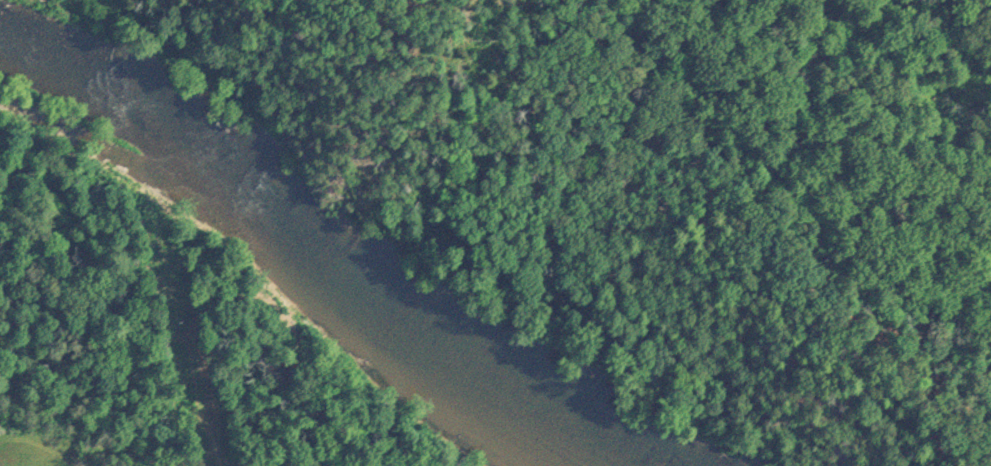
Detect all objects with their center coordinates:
river: (323, 245)
crop: (29, 458)

